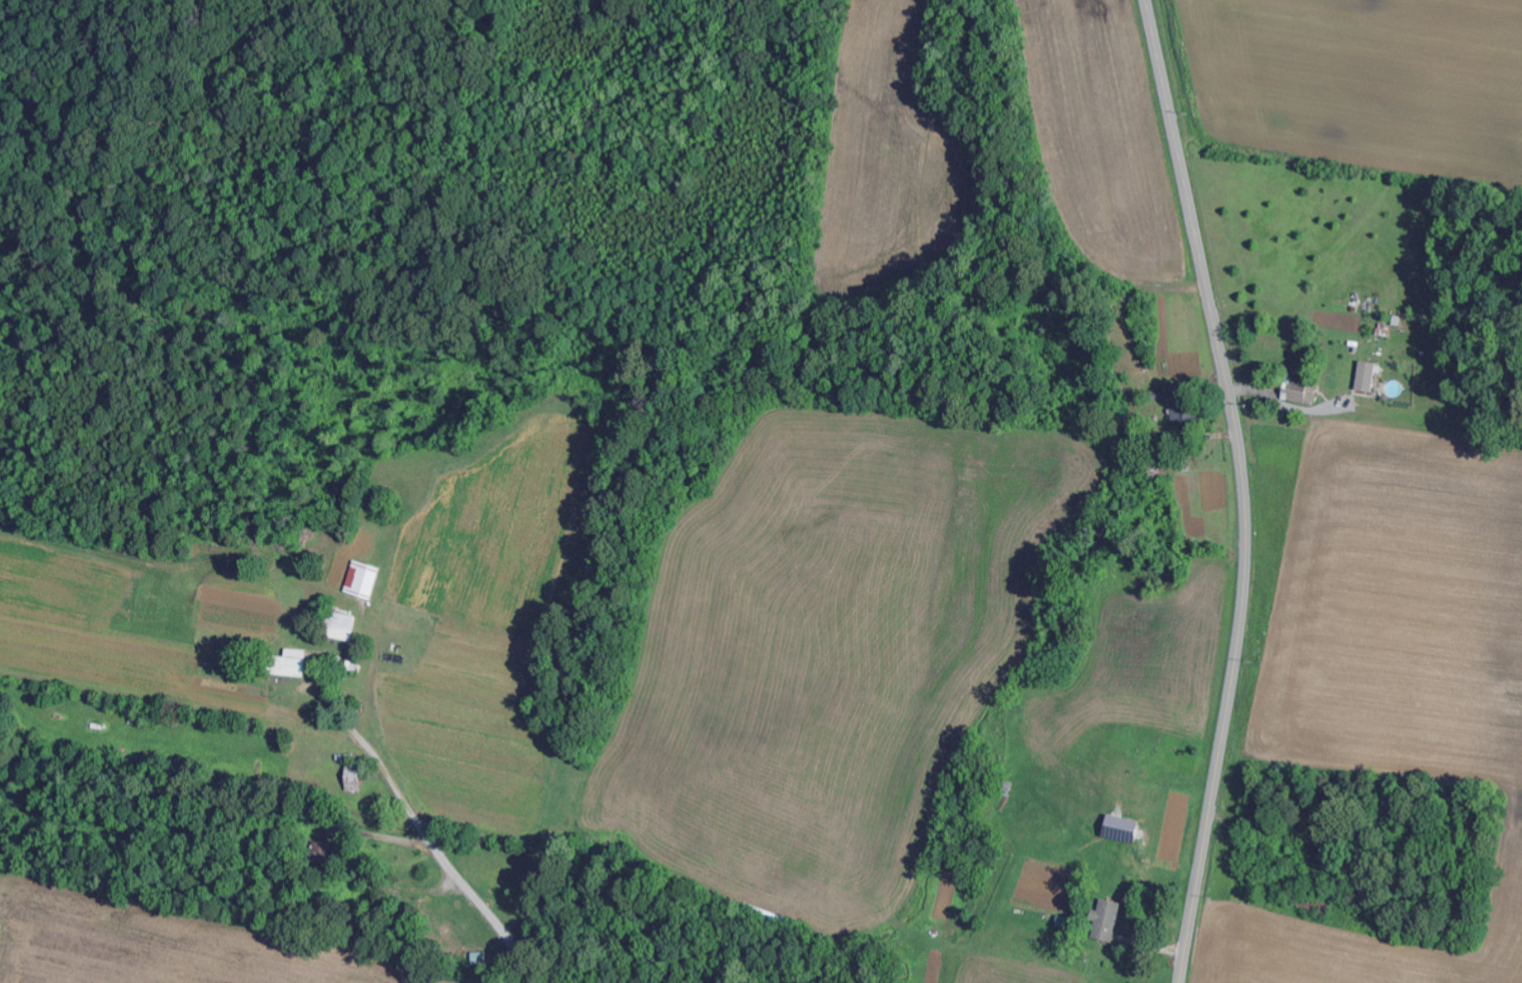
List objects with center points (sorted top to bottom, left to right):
building: (1369, 376)
building: (1299, 391)
building: (1158, 400)
road: (1242, 489)
building: (365, 580)
building: (344, 627)
building: (294, 664)
building: (356, 778)
building: (1125, 830)
road: (473, 898)
building: (1109, 921)

